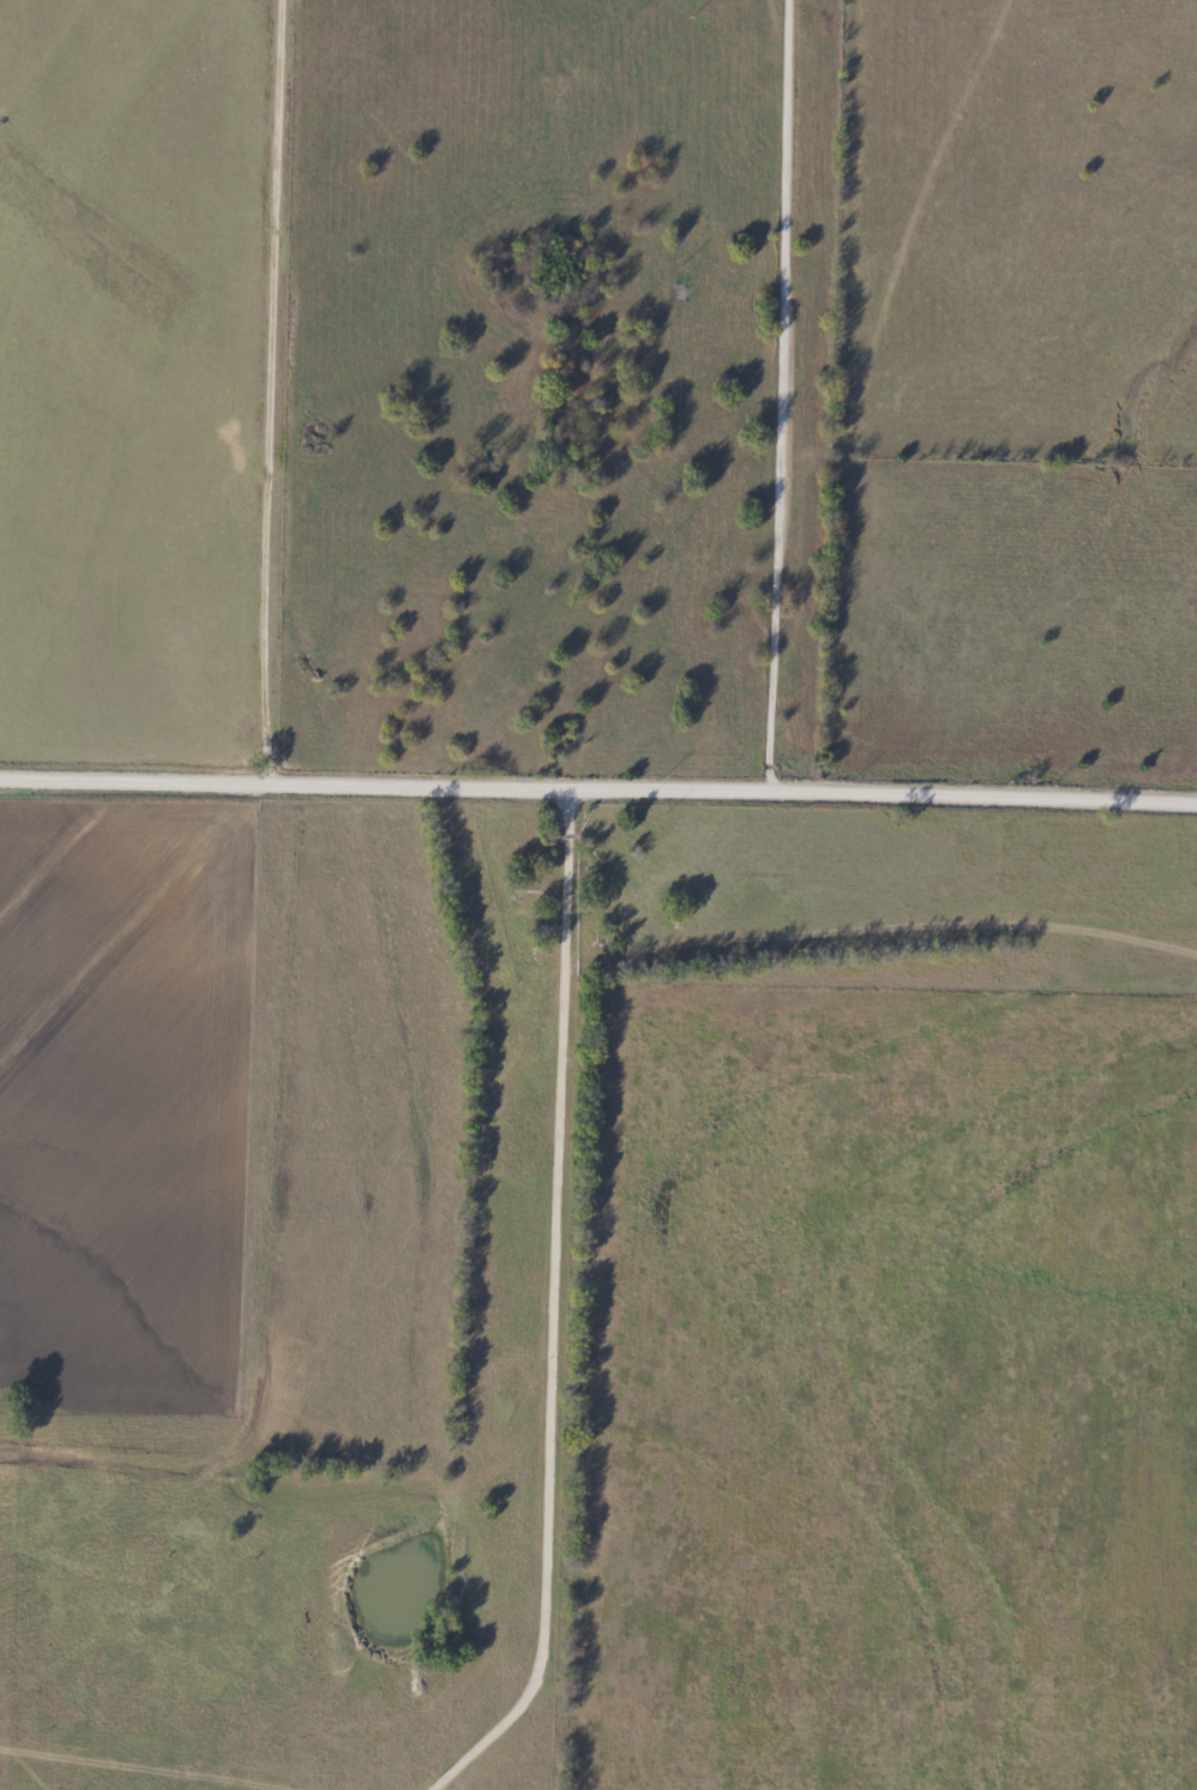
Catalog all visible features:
road: (265, 392)
road: (776, 396)
road: (131, 782)
road: (513, 789)
road: (981, 798)
road: (541, 1309)

